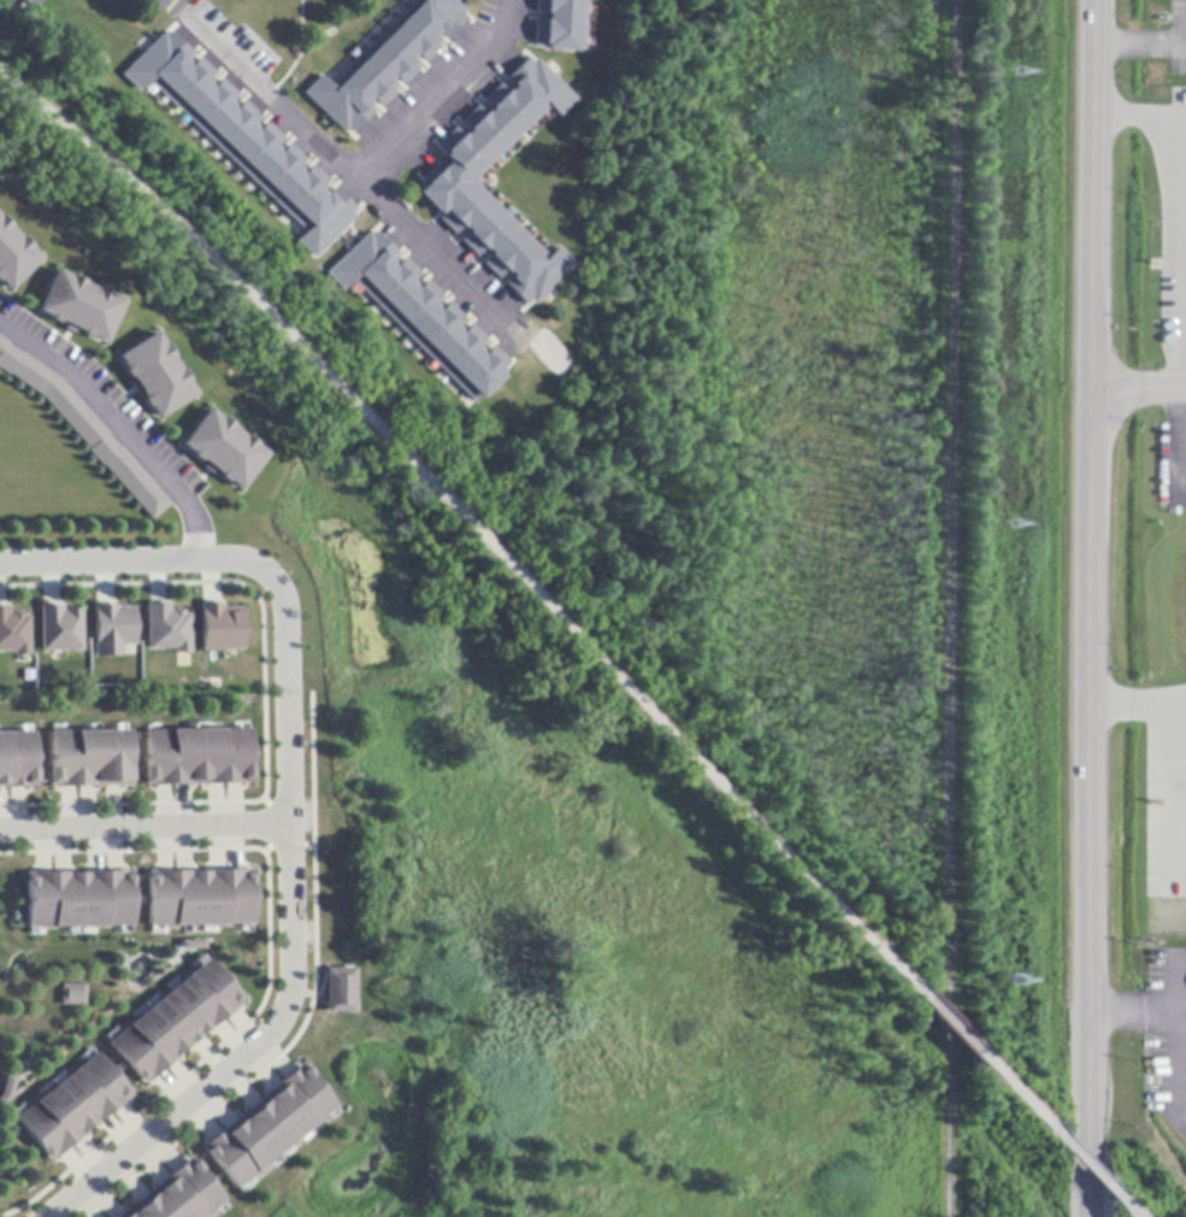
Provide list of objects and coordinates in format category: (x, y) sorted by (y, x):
building: (134, 0)
building: (142, 0)
building: (37, 2)
building: (560, 25)
road: (1141, 47)
building: (385, 63)
power tower: (1020, 74)
road: (14, 94)
road: (1158, 122)
building: (246, 140)
road: (349, 174)
building: (449, 183)
building: (16, 253)
road: (431, 253)
building: (82, 305)
building: (421, 314)
building: (155, 372)
road: (1140, 387)
building: (87, 429)
road: (118, 429)
building: (223, 448)
road: (462, 519)
power tower: (1019, 525)
road: (101, 562)
railway: (952, 608)
road: (1093, 608)
building: (219, 625)
building: (59, 627)
building: (111, 627)
building: (164, 628)
building: (13, 631)
road: (1176, 733)
building: (199, 758)
building: (92, 759)
building: (18, 760)
road: (143, 829)
building: (199, 898)
building: (79, 900)
road: (289, 915)
park: (508, 923)
building: (193, 945)
power tower: (1017, 981)
building: (341, 992)
building: (71, 995)
road: (1144, 1005)
building: (176, 1022)
road: (952, 1025)
building: (7, 1090)
road: (1023, 1099)
building: (73, 1107)
building: (269, 1127)
road: (1093, 1171)
building: (177, 1195)
road: (1133, 1215)

